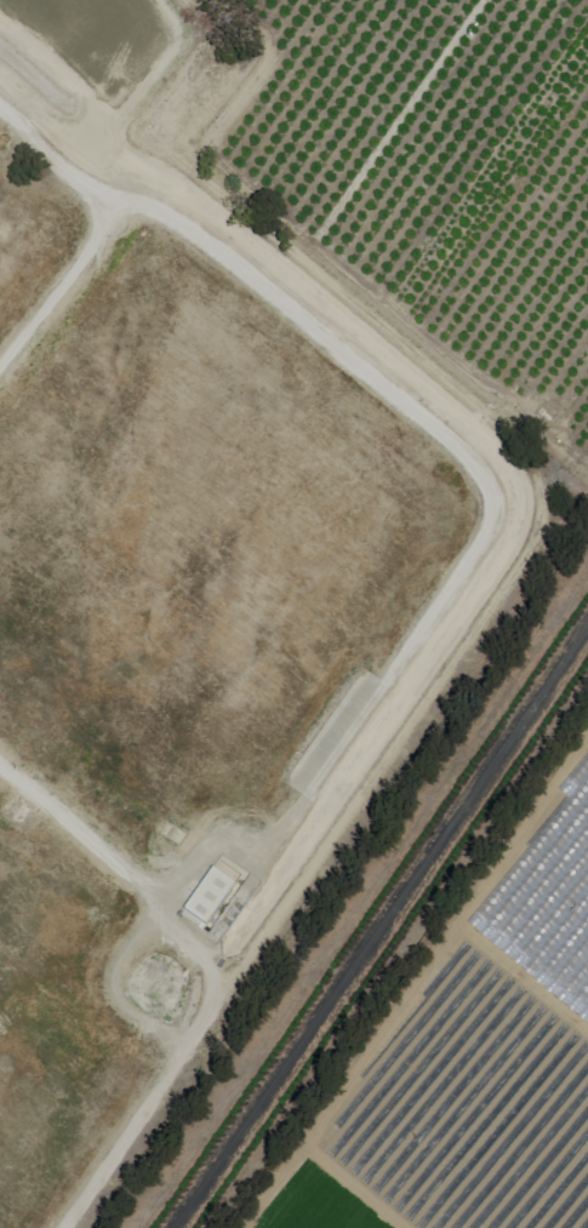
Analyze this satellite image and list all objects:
building: (205, 898)
road: (382, 931)
crop: (467, 1051)

